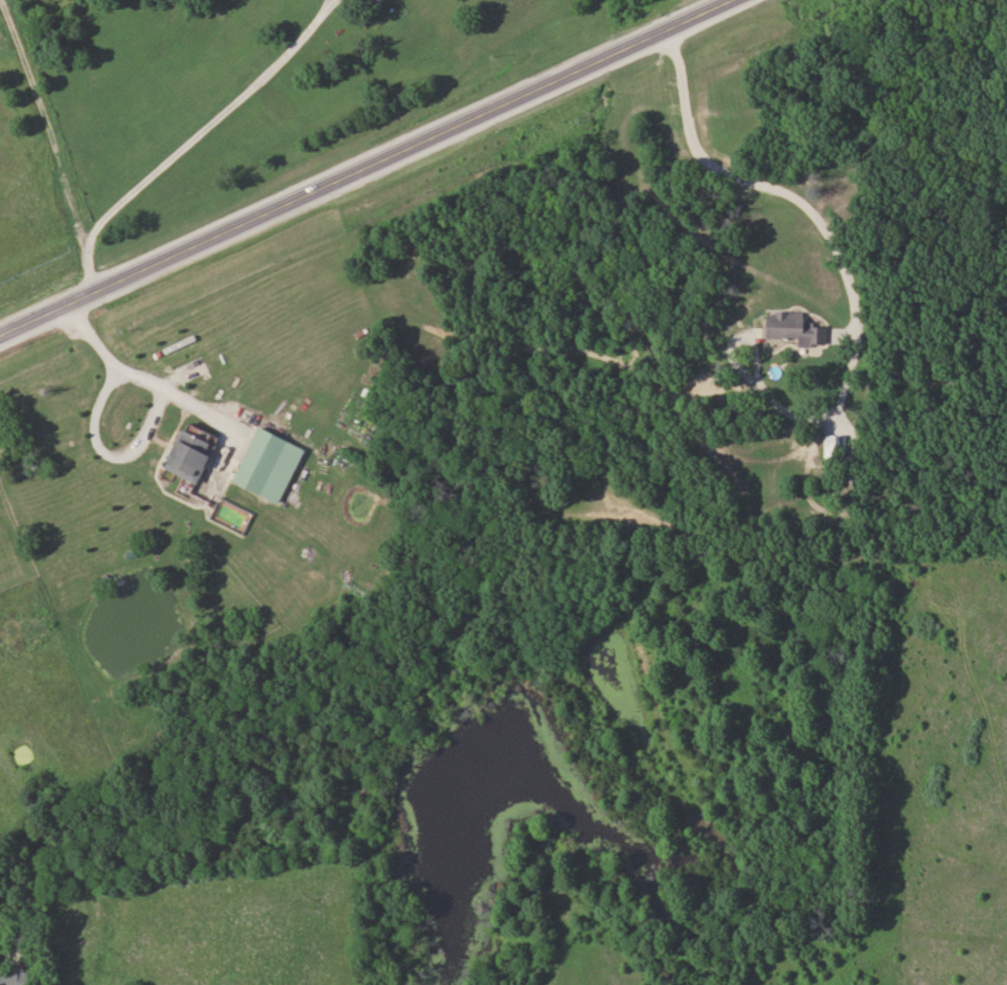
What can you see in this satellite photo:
road: (48, 113)
road: (185, 140)
road: (364, 166)
road: (844, 287)
building: (792, 327)
road: (140, 378)
building: (196, 454)
building: (272, 463)
building: (17, 977)

